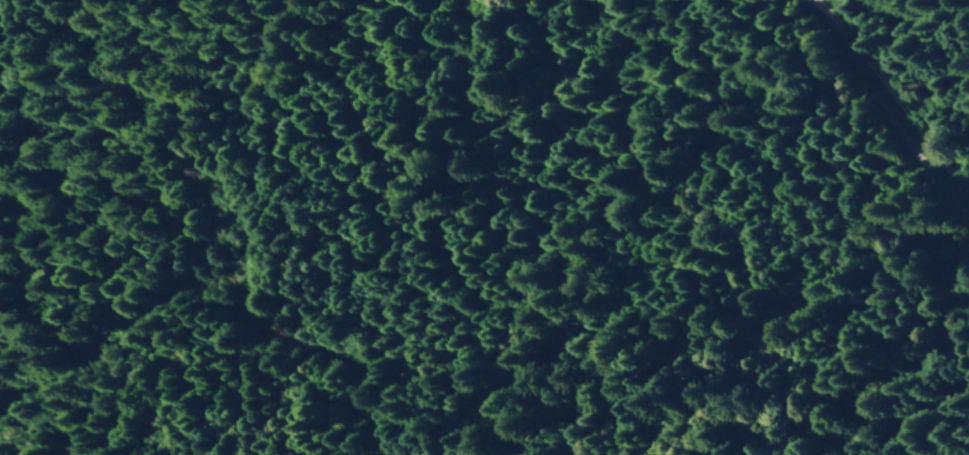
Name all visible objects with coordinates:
road: (881, 103)

